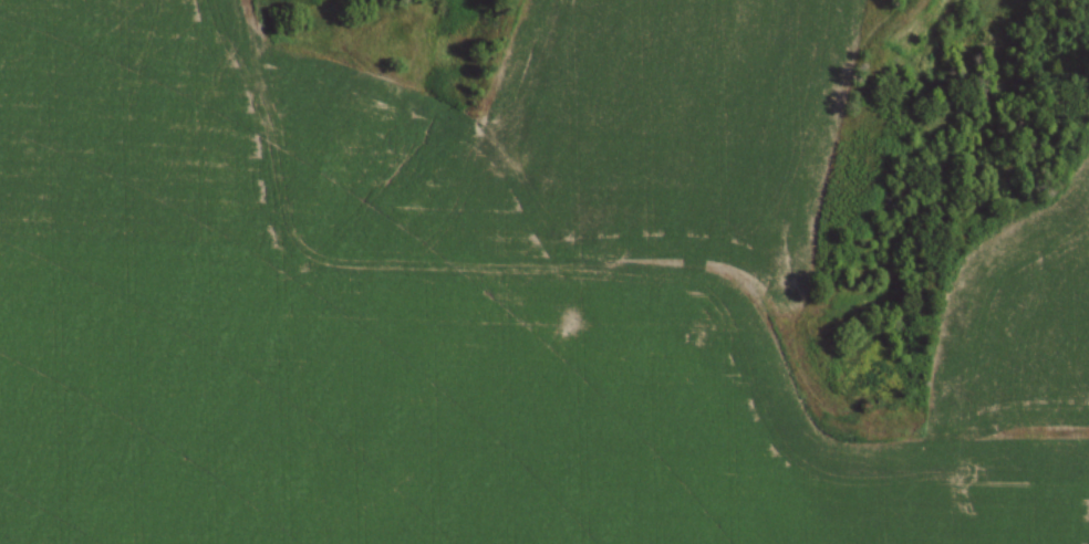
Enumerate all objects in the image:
crop: (377, 334)

